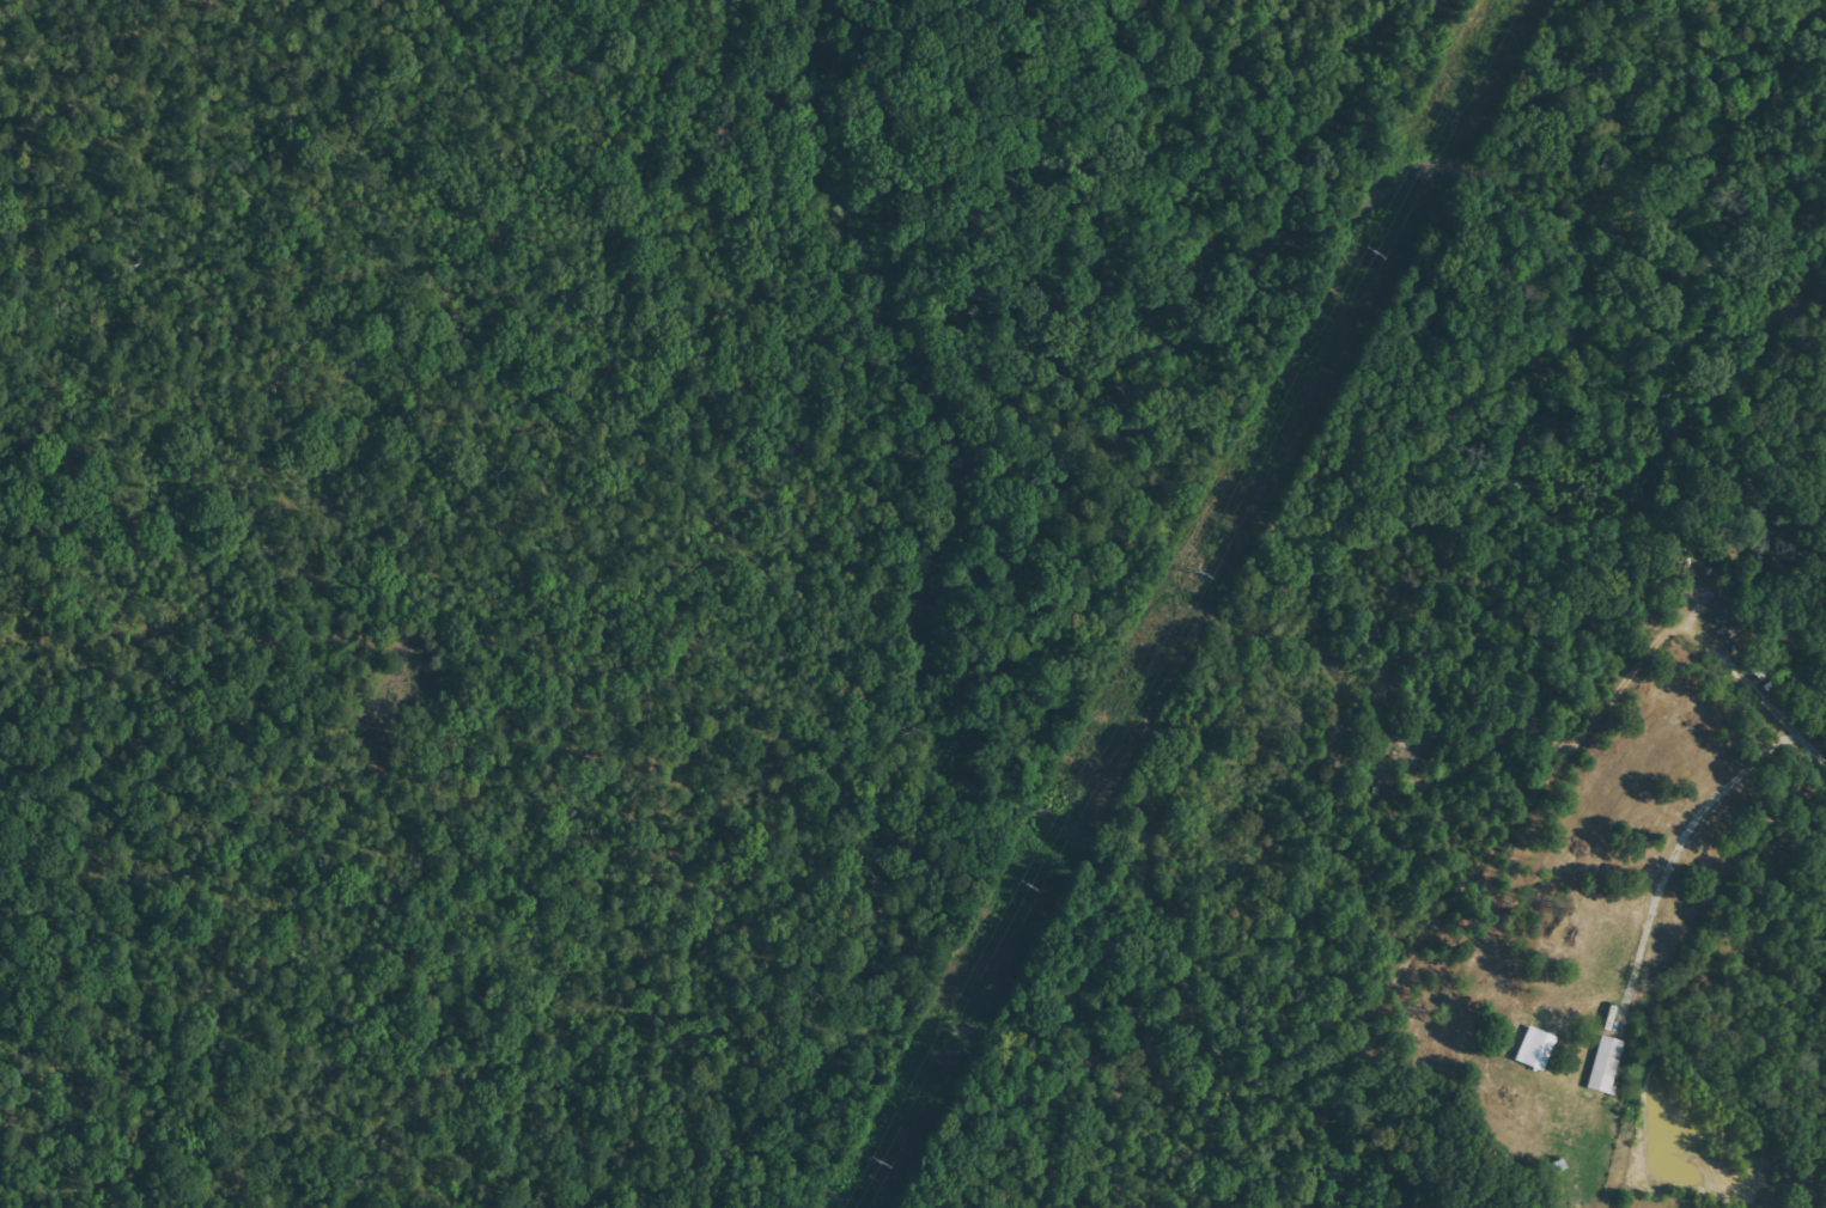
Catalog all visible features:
river: (1563, 234)
power tower: (1374, 252)
power tower: (1198, 573)
road: (1759, 690)
river: (948, 742)
power tower: (1027, 886)
building: (1536, 1049)
building: (1606, 1066)
power tower: (869, 1165)

